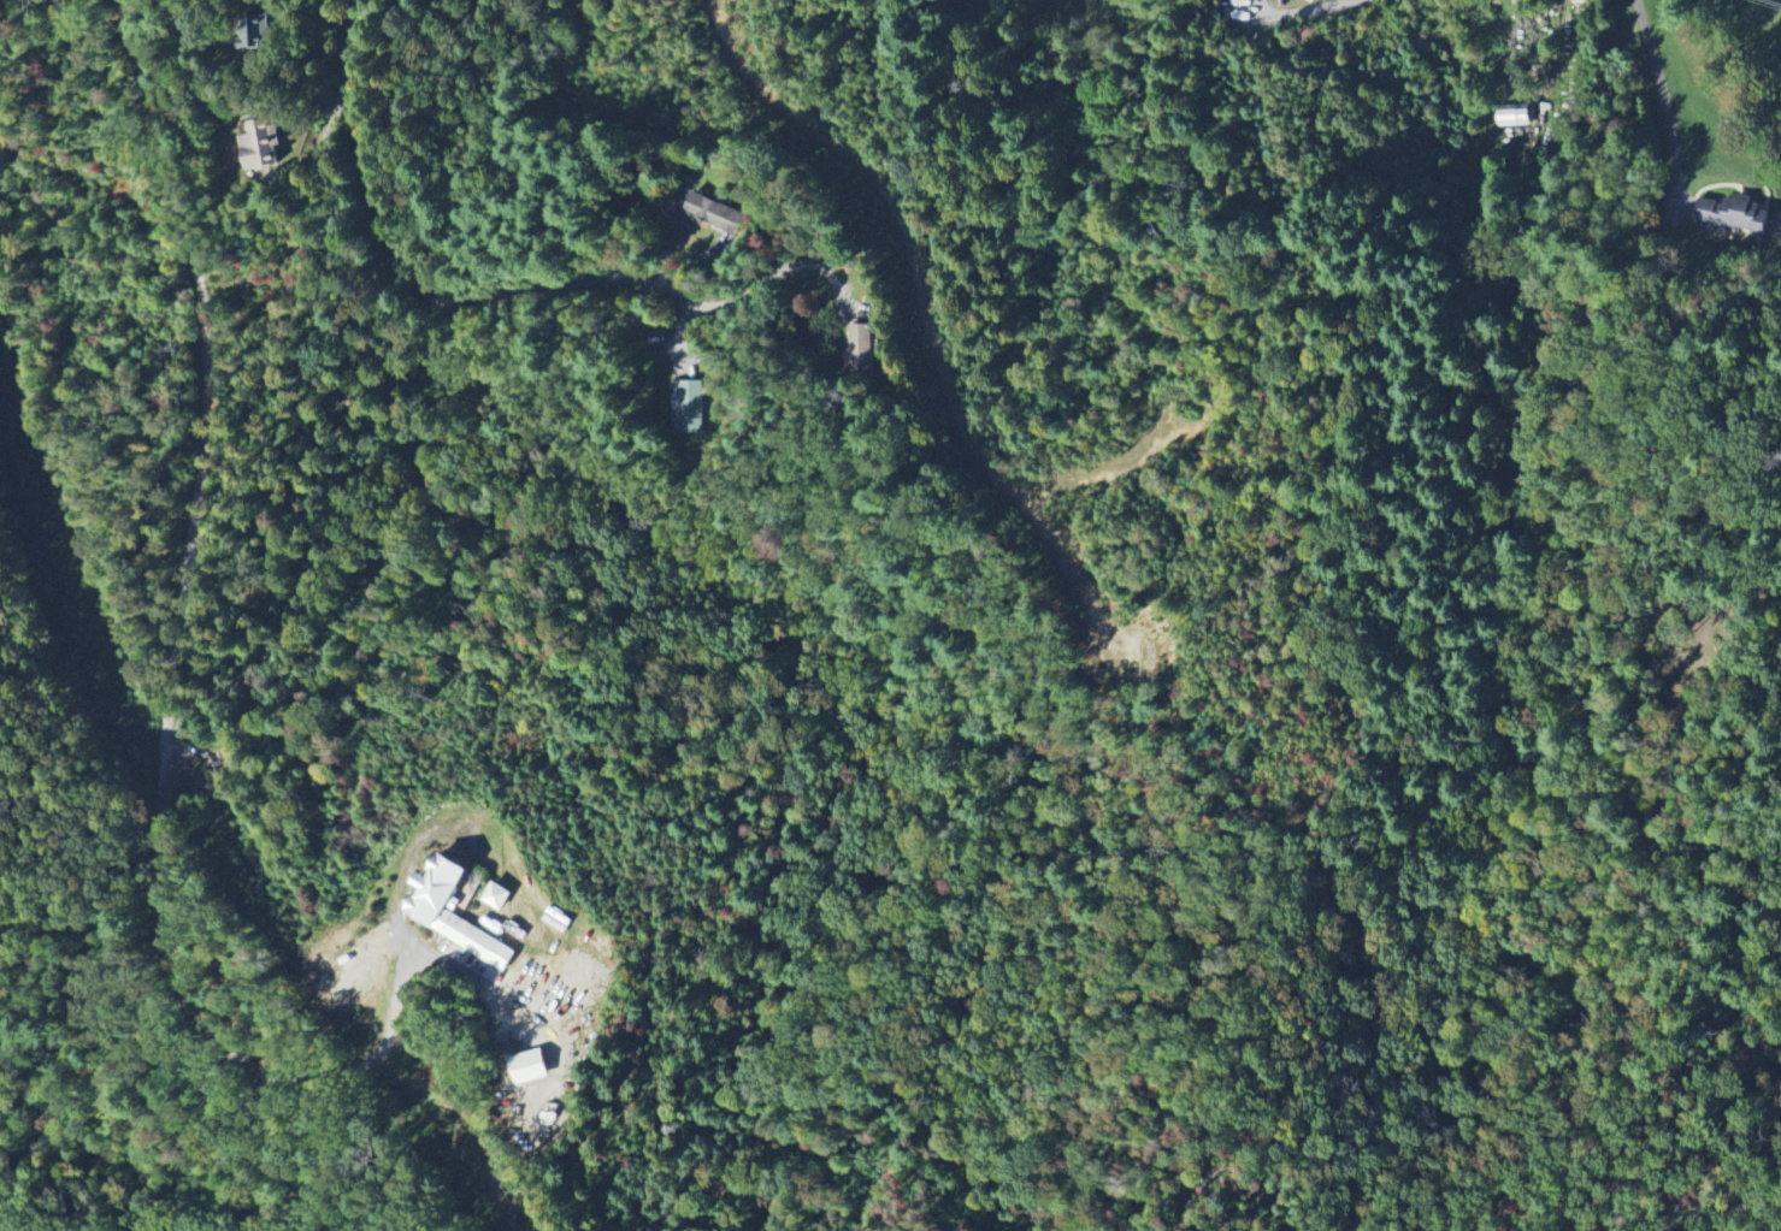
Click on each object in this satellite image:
road: (1296, 10)
building: (256, 30)
road: (1667, 100)
building: (1512, 116)
building: (260, 146)
building: (714, 214)
building: (1733, 214)
road: (1780, 232)
road: (603, 274)
building: (860, 350)
building: (688, 407)
road: (165, 756)
building: (495, 896)
building: (449, 912)
building: (526, 1067)

